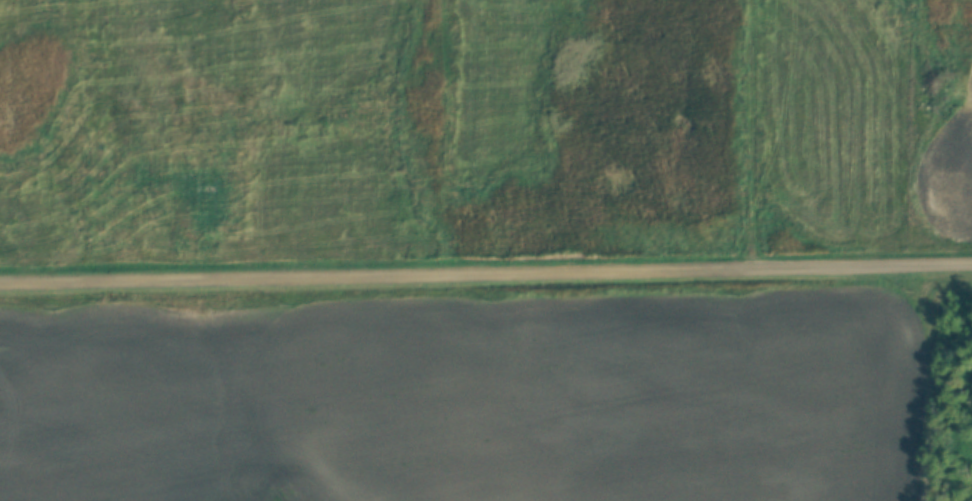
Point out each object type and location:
road: (486, 282)
river: (265, 493)

